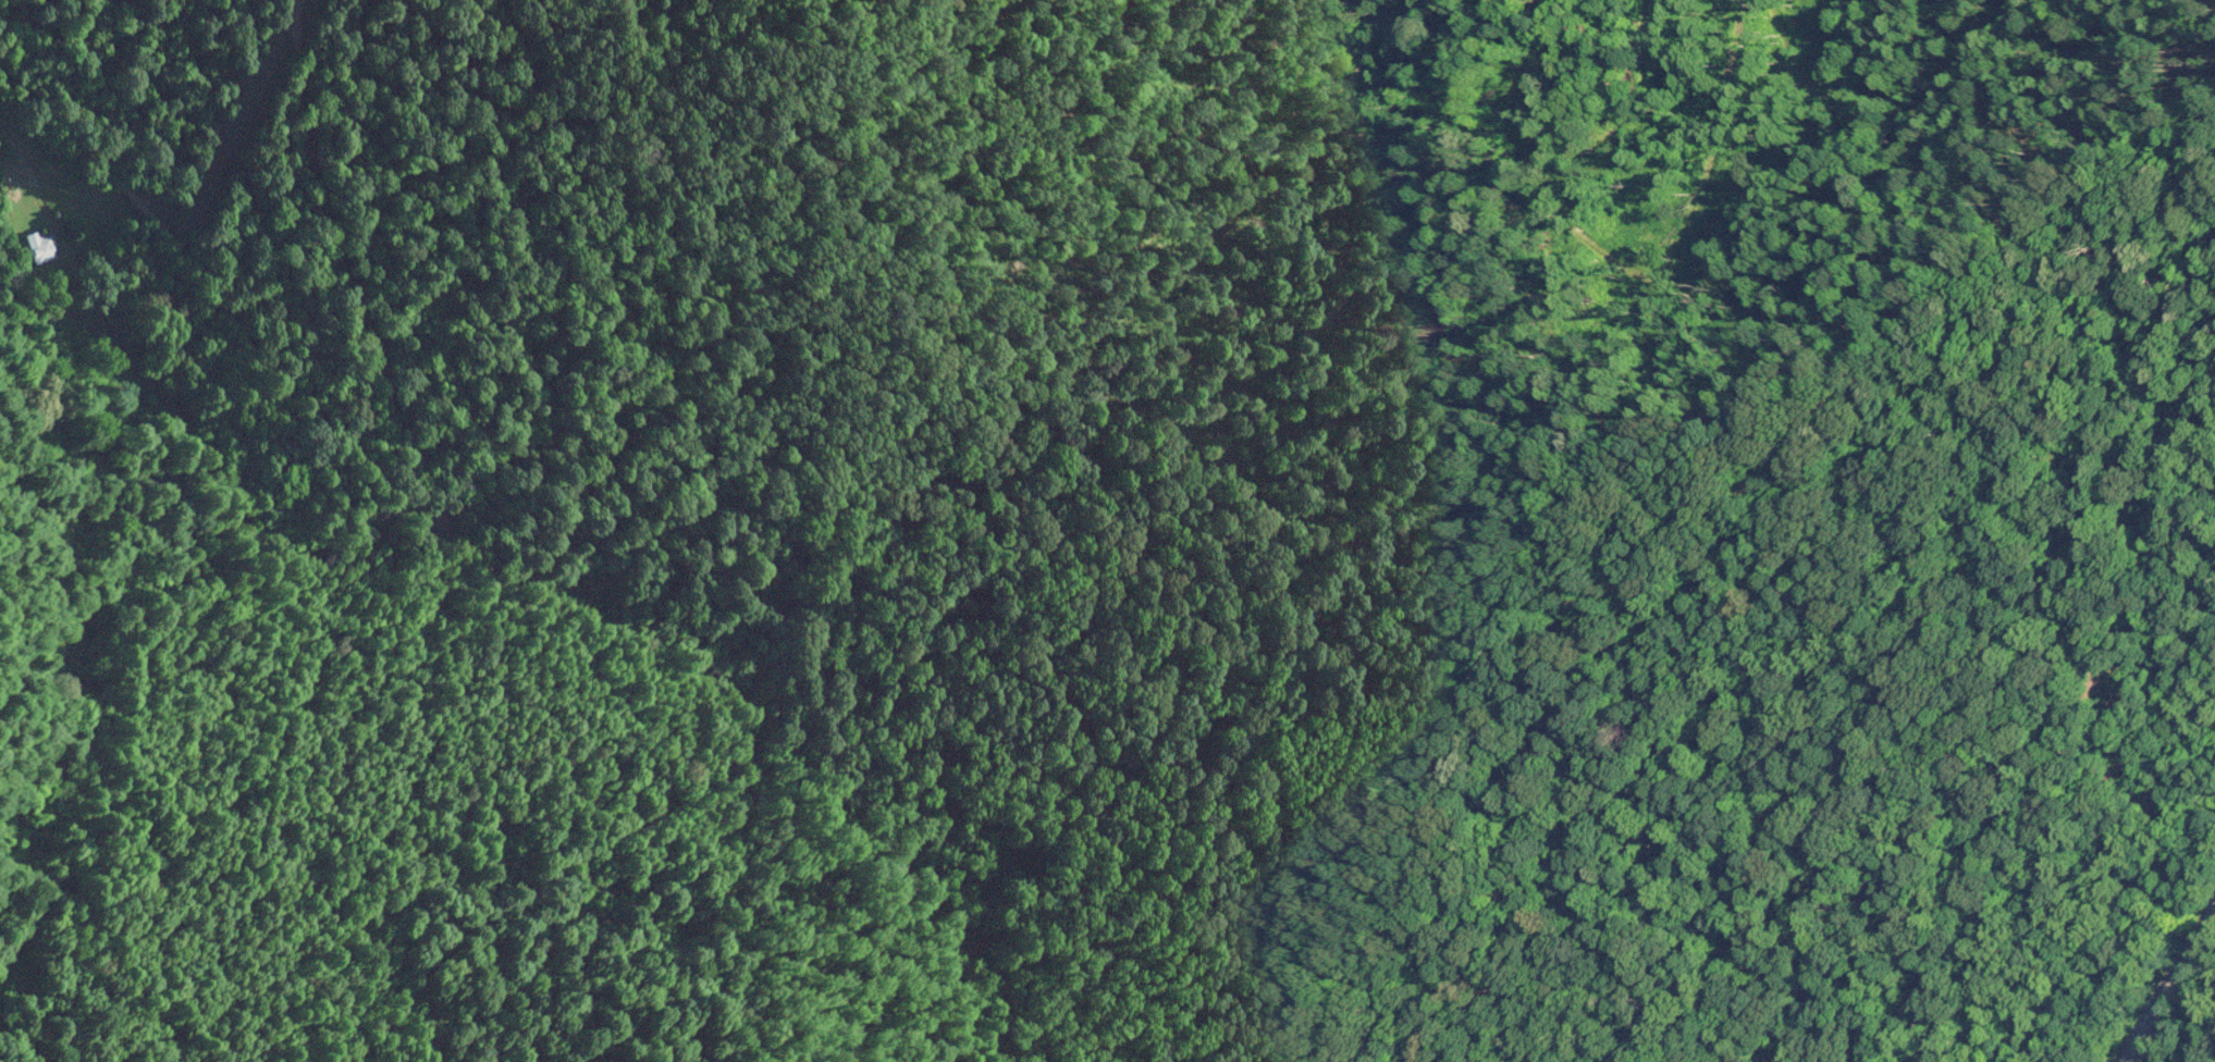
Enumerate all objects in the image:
road: (27, 220)
building: (38, 244)
road: (328, 450)
road: (2173, 996)

